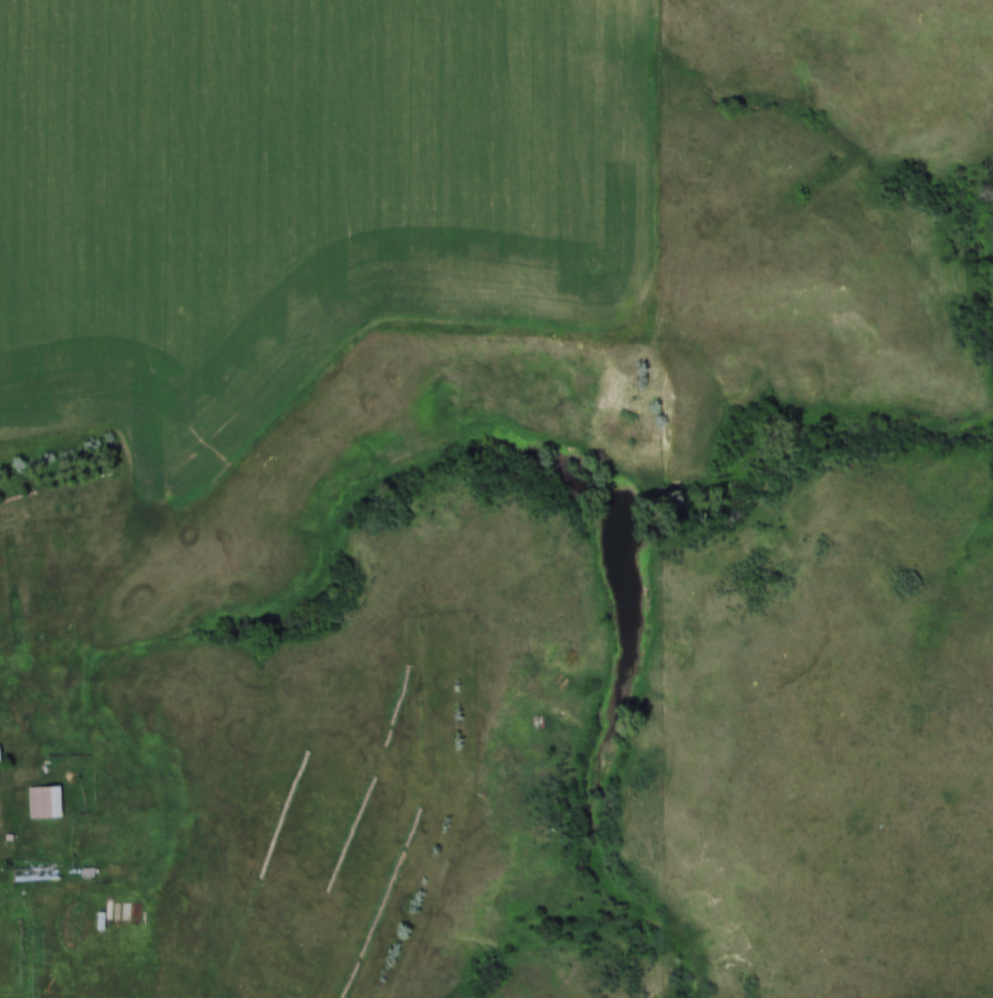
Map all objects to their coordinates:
building: (37, 801)

